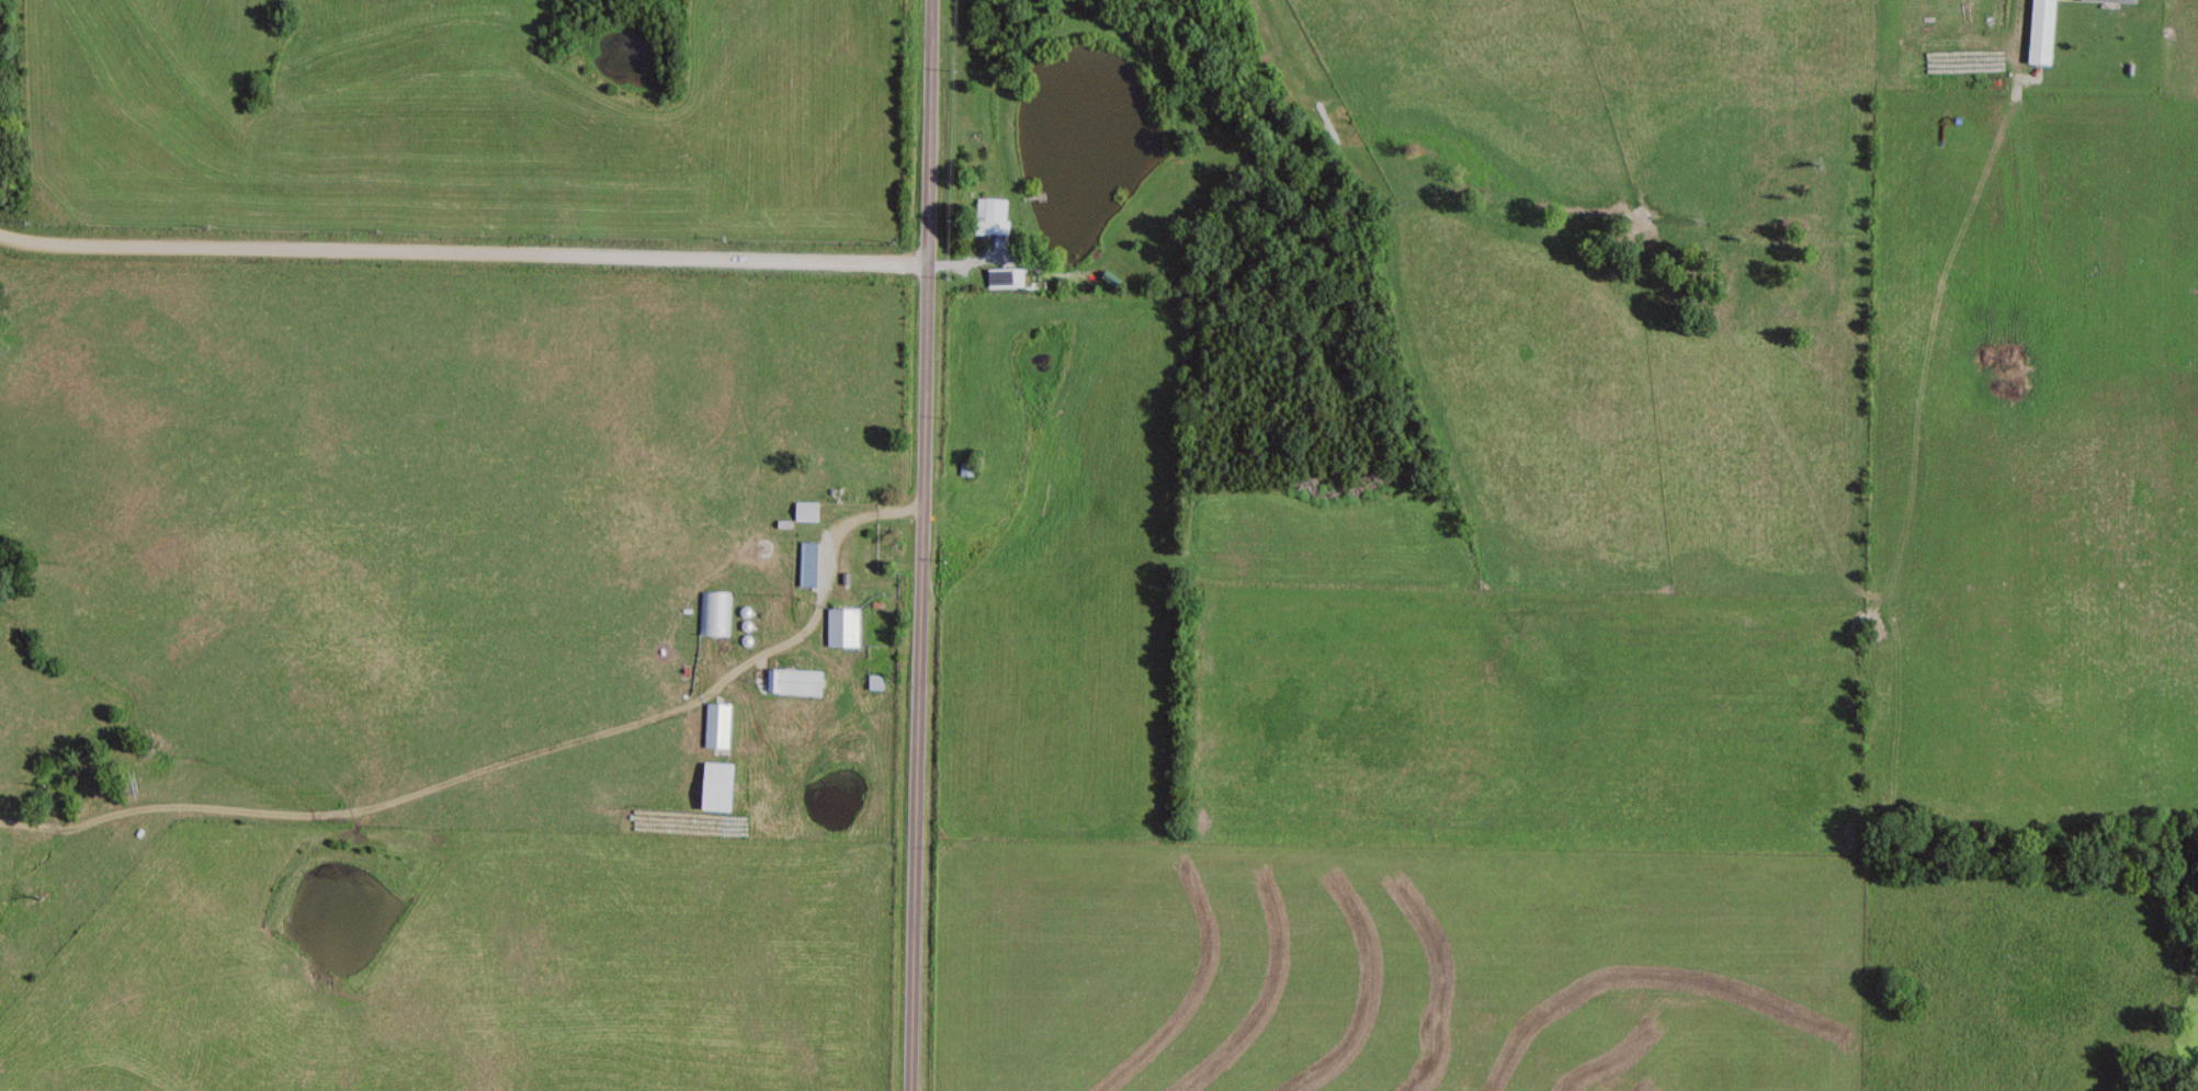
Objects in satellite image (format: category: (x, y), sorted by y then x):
building: (2106, 0)
building: (1973, 1)
building: (2039, 31)
building: (983, 215)
road: (463, 252)
building: (1005, 276)
building: (967, 466)
building: (812, 510)
road: (926, 545)
building: (814, 561)
building: (717, 611)
building: (848, 625)
building: (801, 680)
building: (723, 724)
building: (727, 785)

